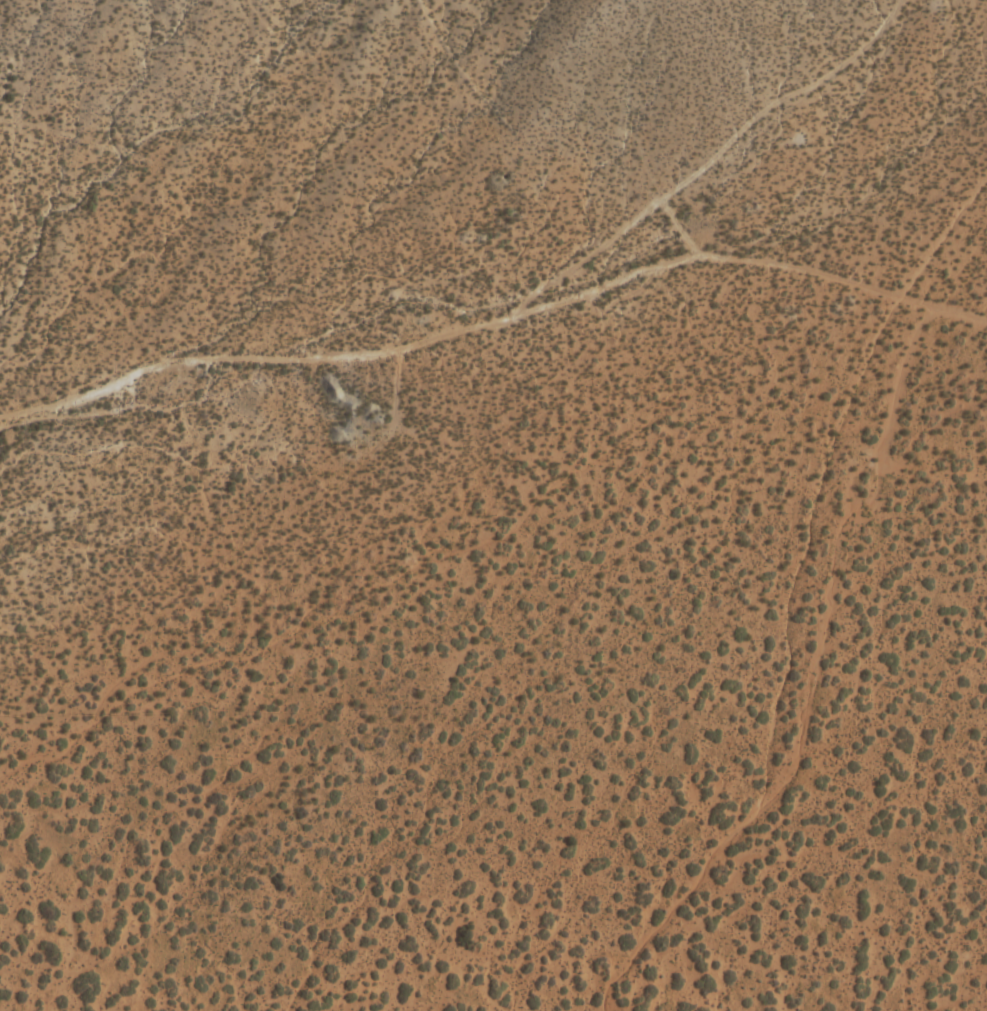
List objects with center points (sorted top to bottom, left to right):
road: (510, 277)
road: (820, 289)

